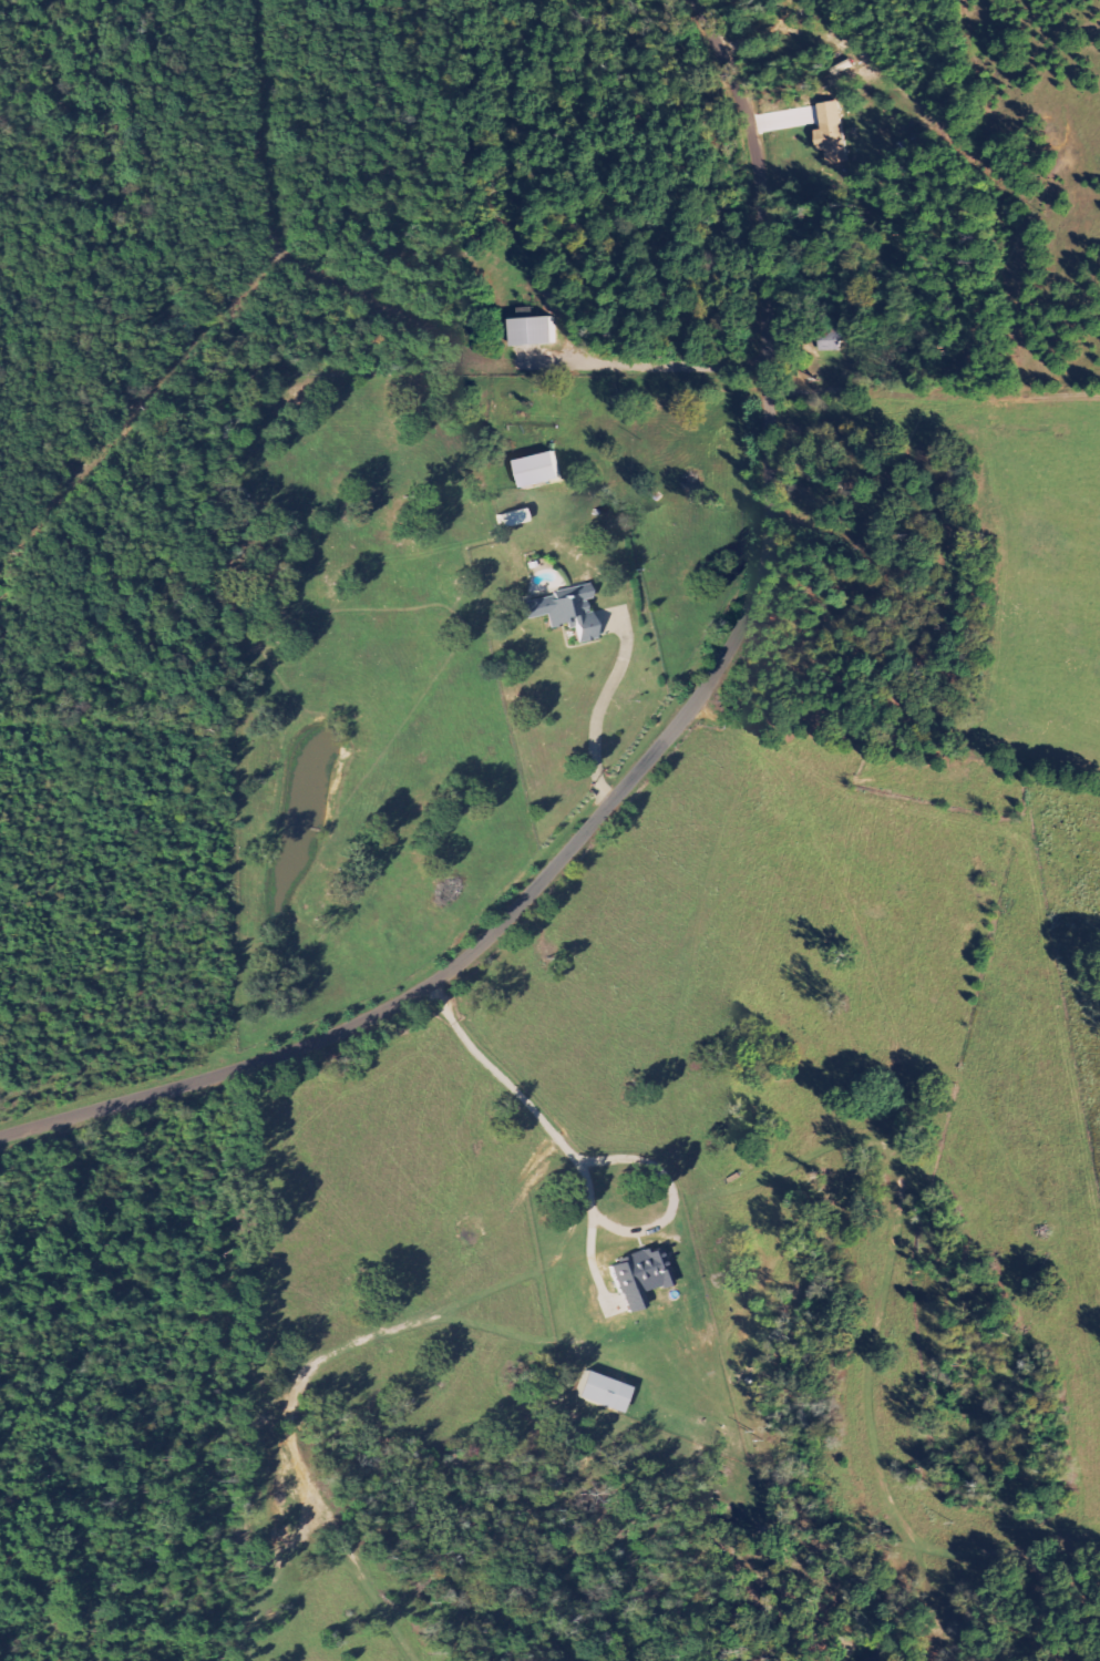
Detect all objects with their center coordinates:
building: (834, 133)
building: (536, 331)
building: (832, 341)
building: (541, 470)
building: (513, 520)
building: (565, 613)
road: (659, 747)
building: (640, 1275)
building: (604, 1392)
road: (1047, 1557)

